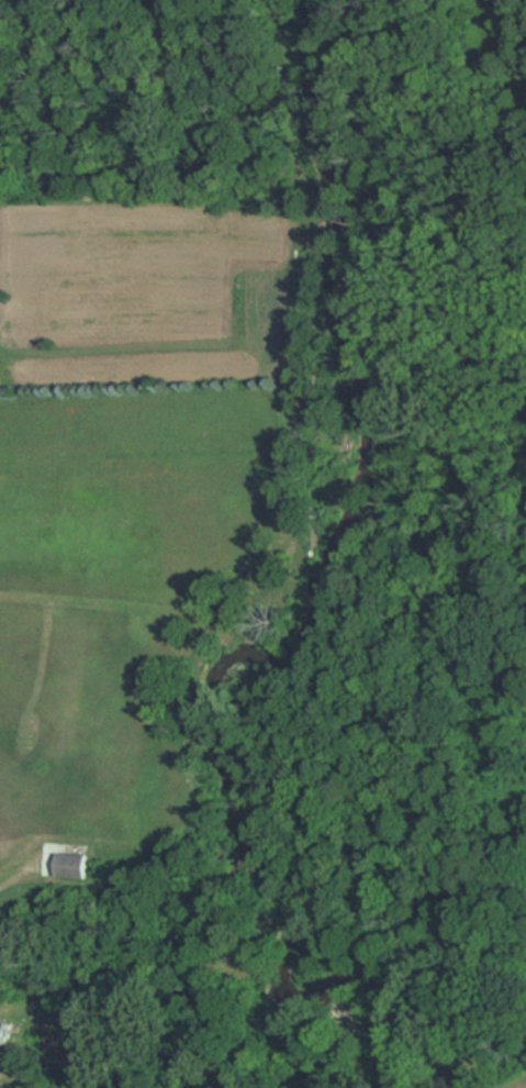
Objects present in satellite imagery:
park: (412, 543)
building: (65, 864)
building: (1, 1042)

